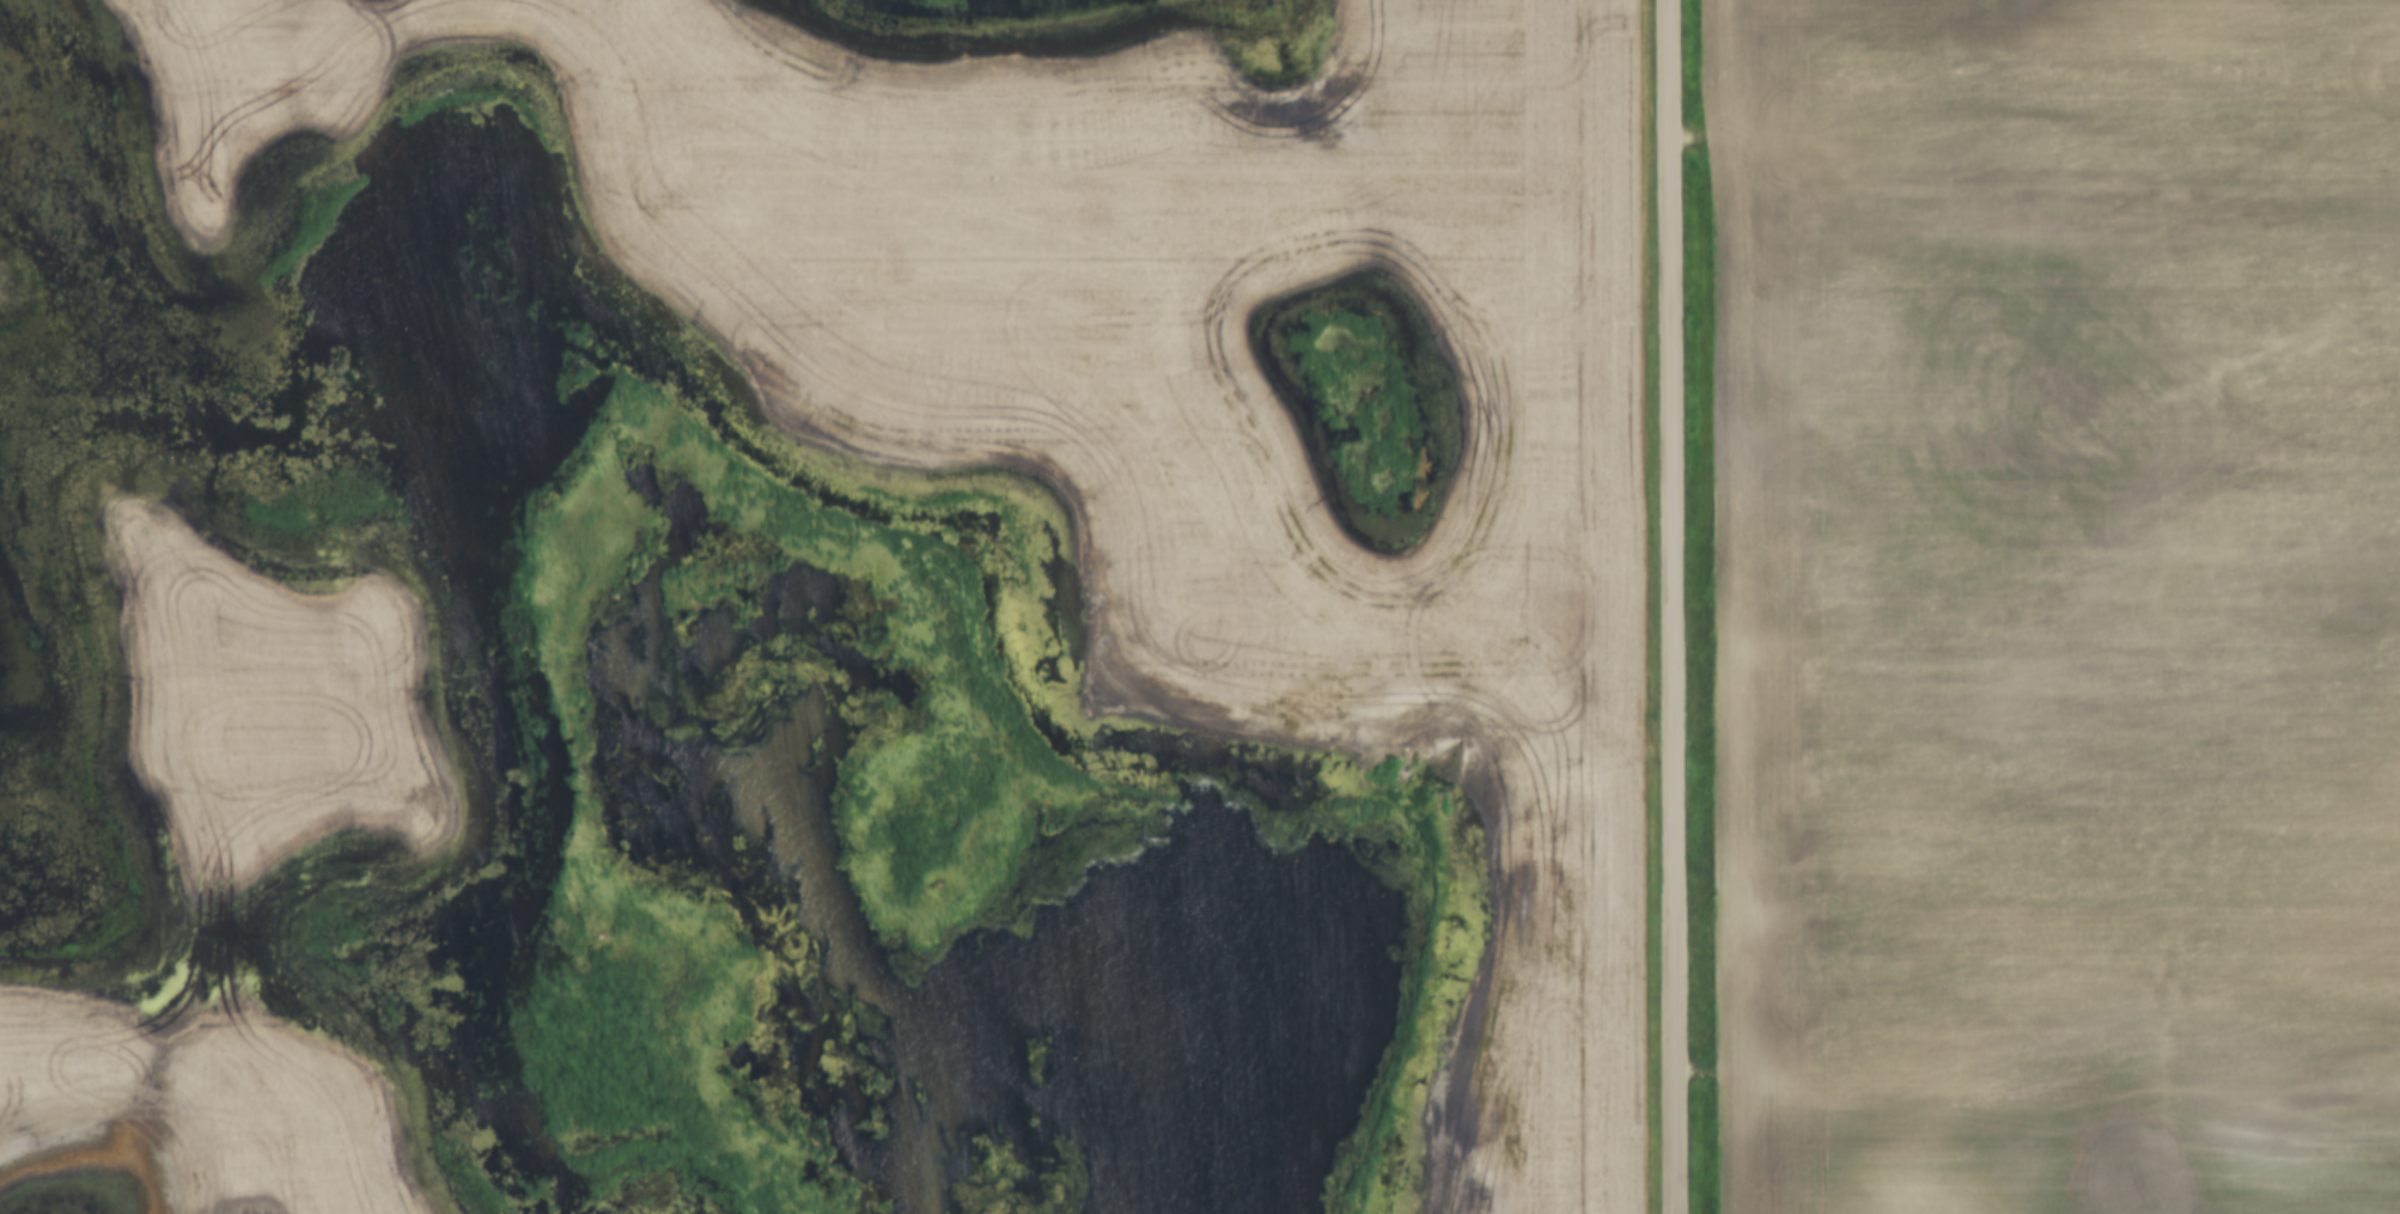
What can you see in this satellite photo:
road: (1670, 606)

